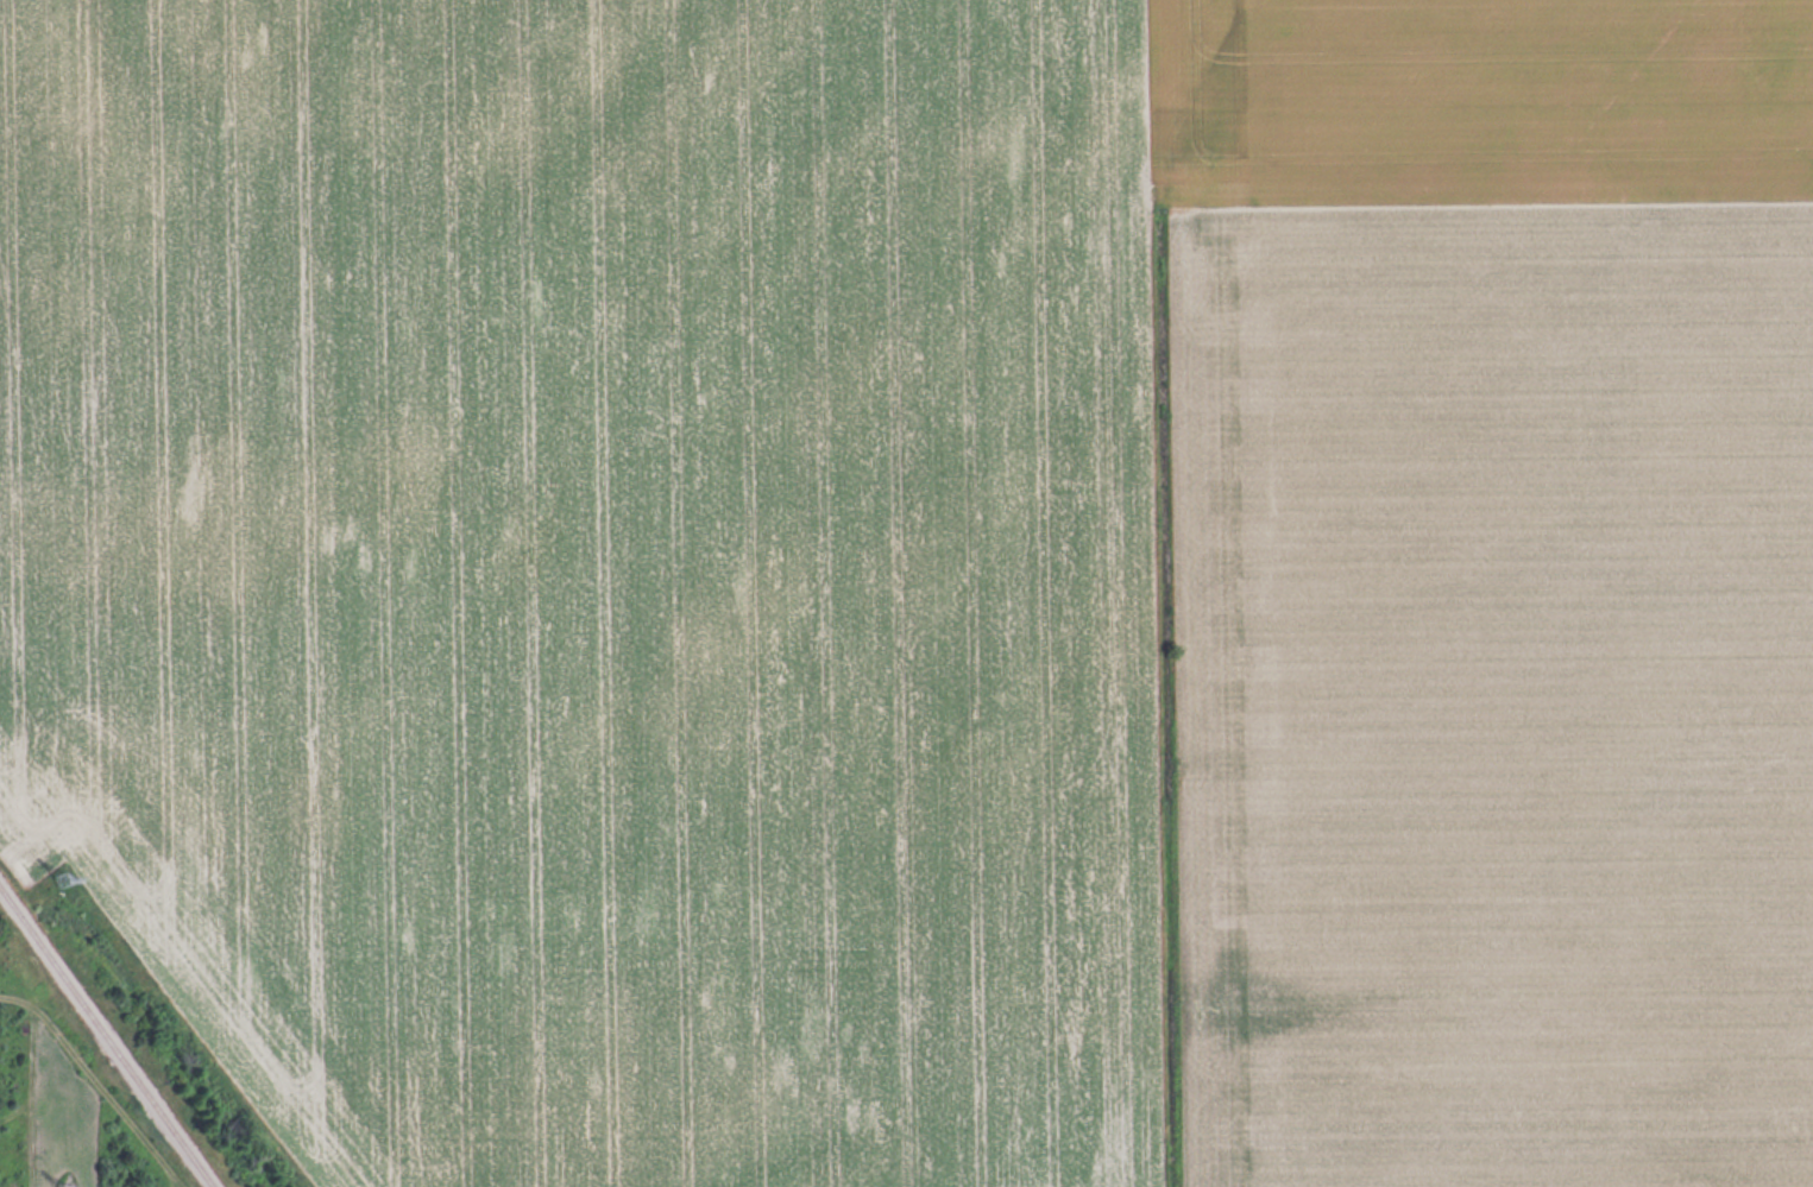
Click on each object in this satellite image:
power tower: (64, 882)
railway: (105, 1038)

